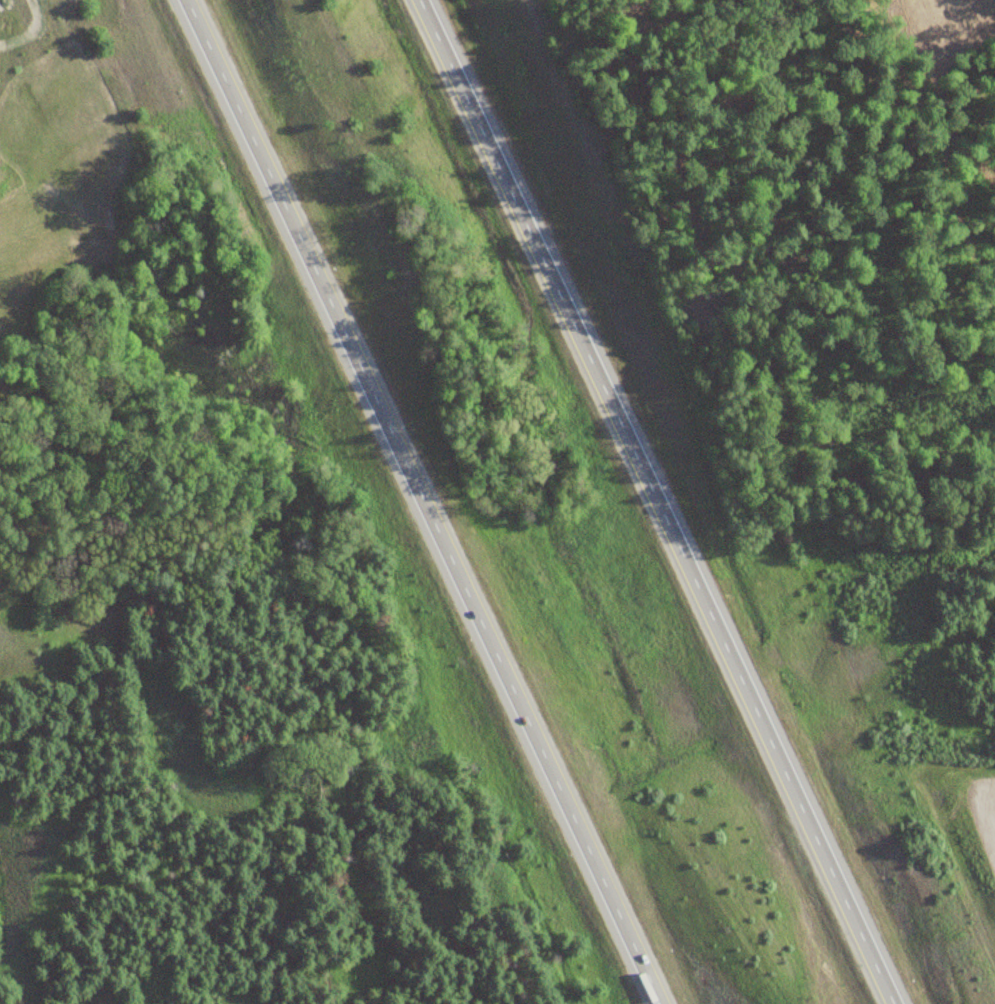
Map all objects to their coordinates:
road: (428, 502)
road: (668, 502)

